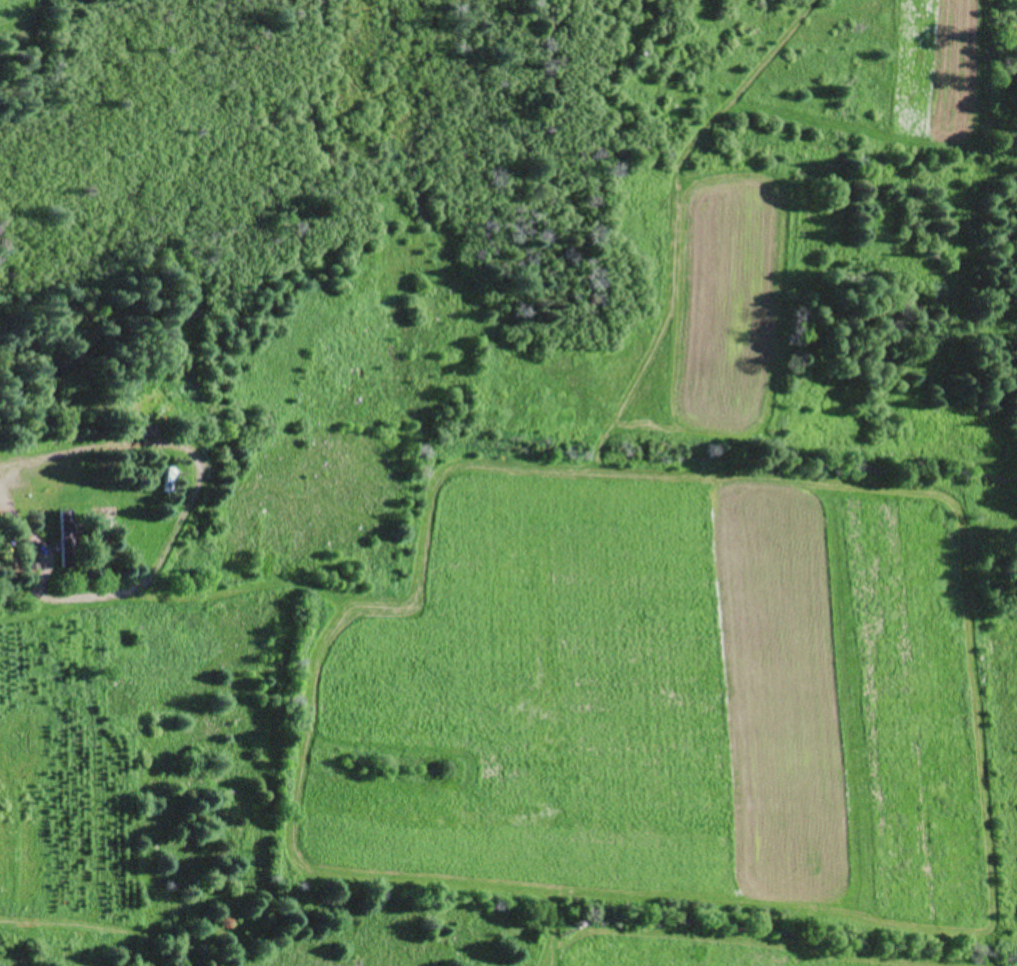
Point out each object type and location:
road: (86, 194)
building: (67, 537)

